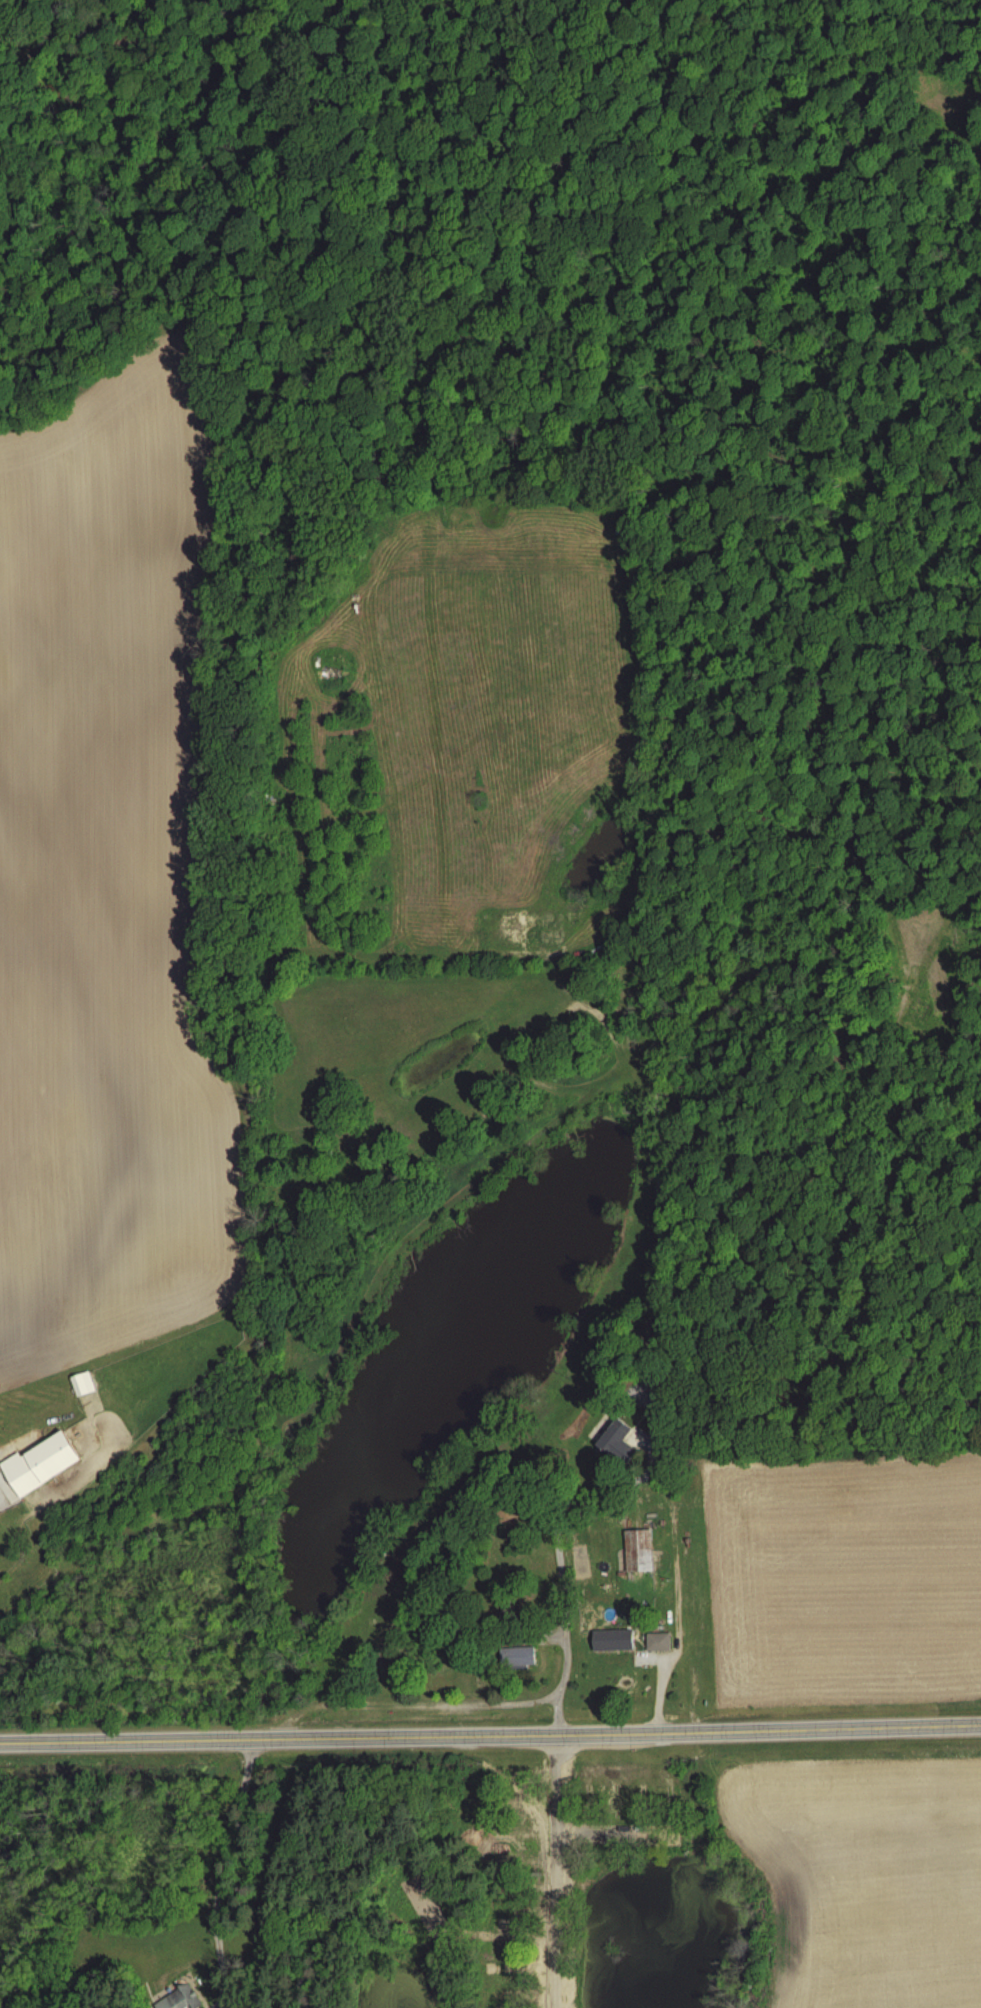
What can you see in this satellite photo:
building: (613, 1439)
building: (638, 1551)
road: (563, 1593)
building: (656, 1641)
building: (514, 1657)
building: (622, 1676)
road: (490, 1739)
building: (586, 1786)
building: (668, 1790)
building: (641, 1795)
building: (614, 1799)
building: (517, 1801)
building: (510, 1829)
building: (519, 1855)
road: (225, 1870)
road: (553, 1873)
building: (527, 1879)
building: (504, 1881)
building: (530, 1964)
building: (500, 1966)
building: (179, 1998)

